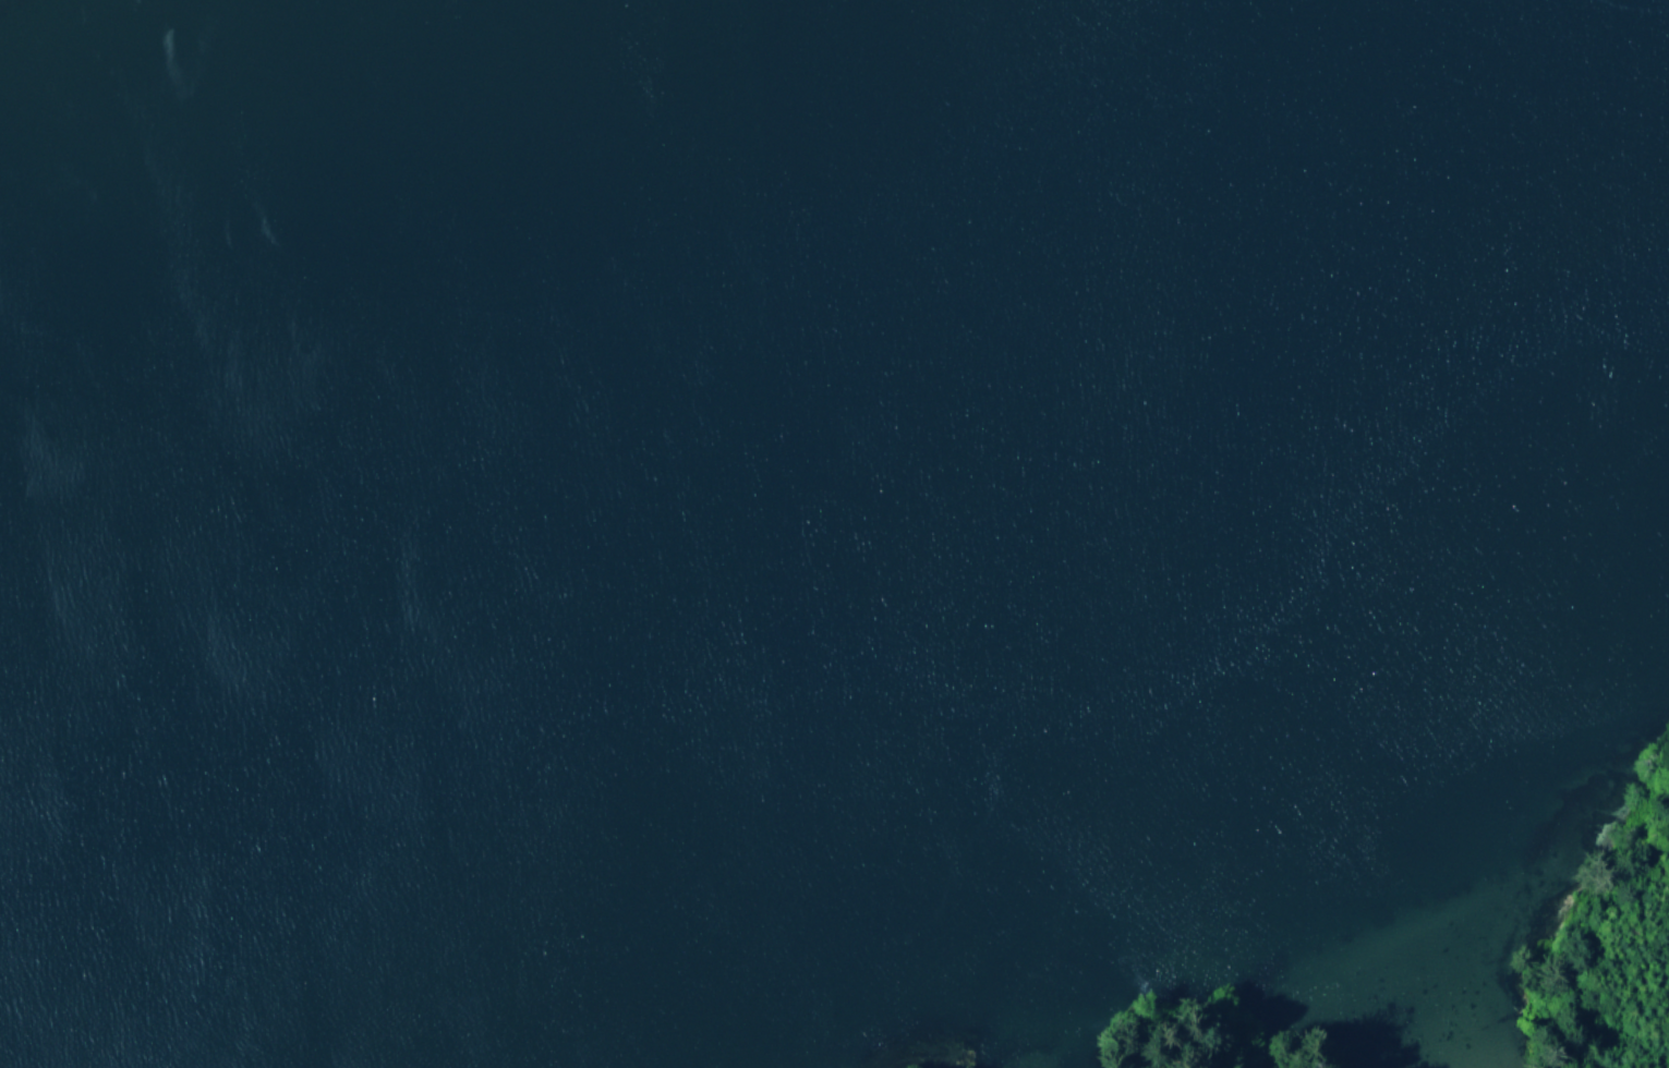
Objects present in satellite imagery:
river: (644, 468)

